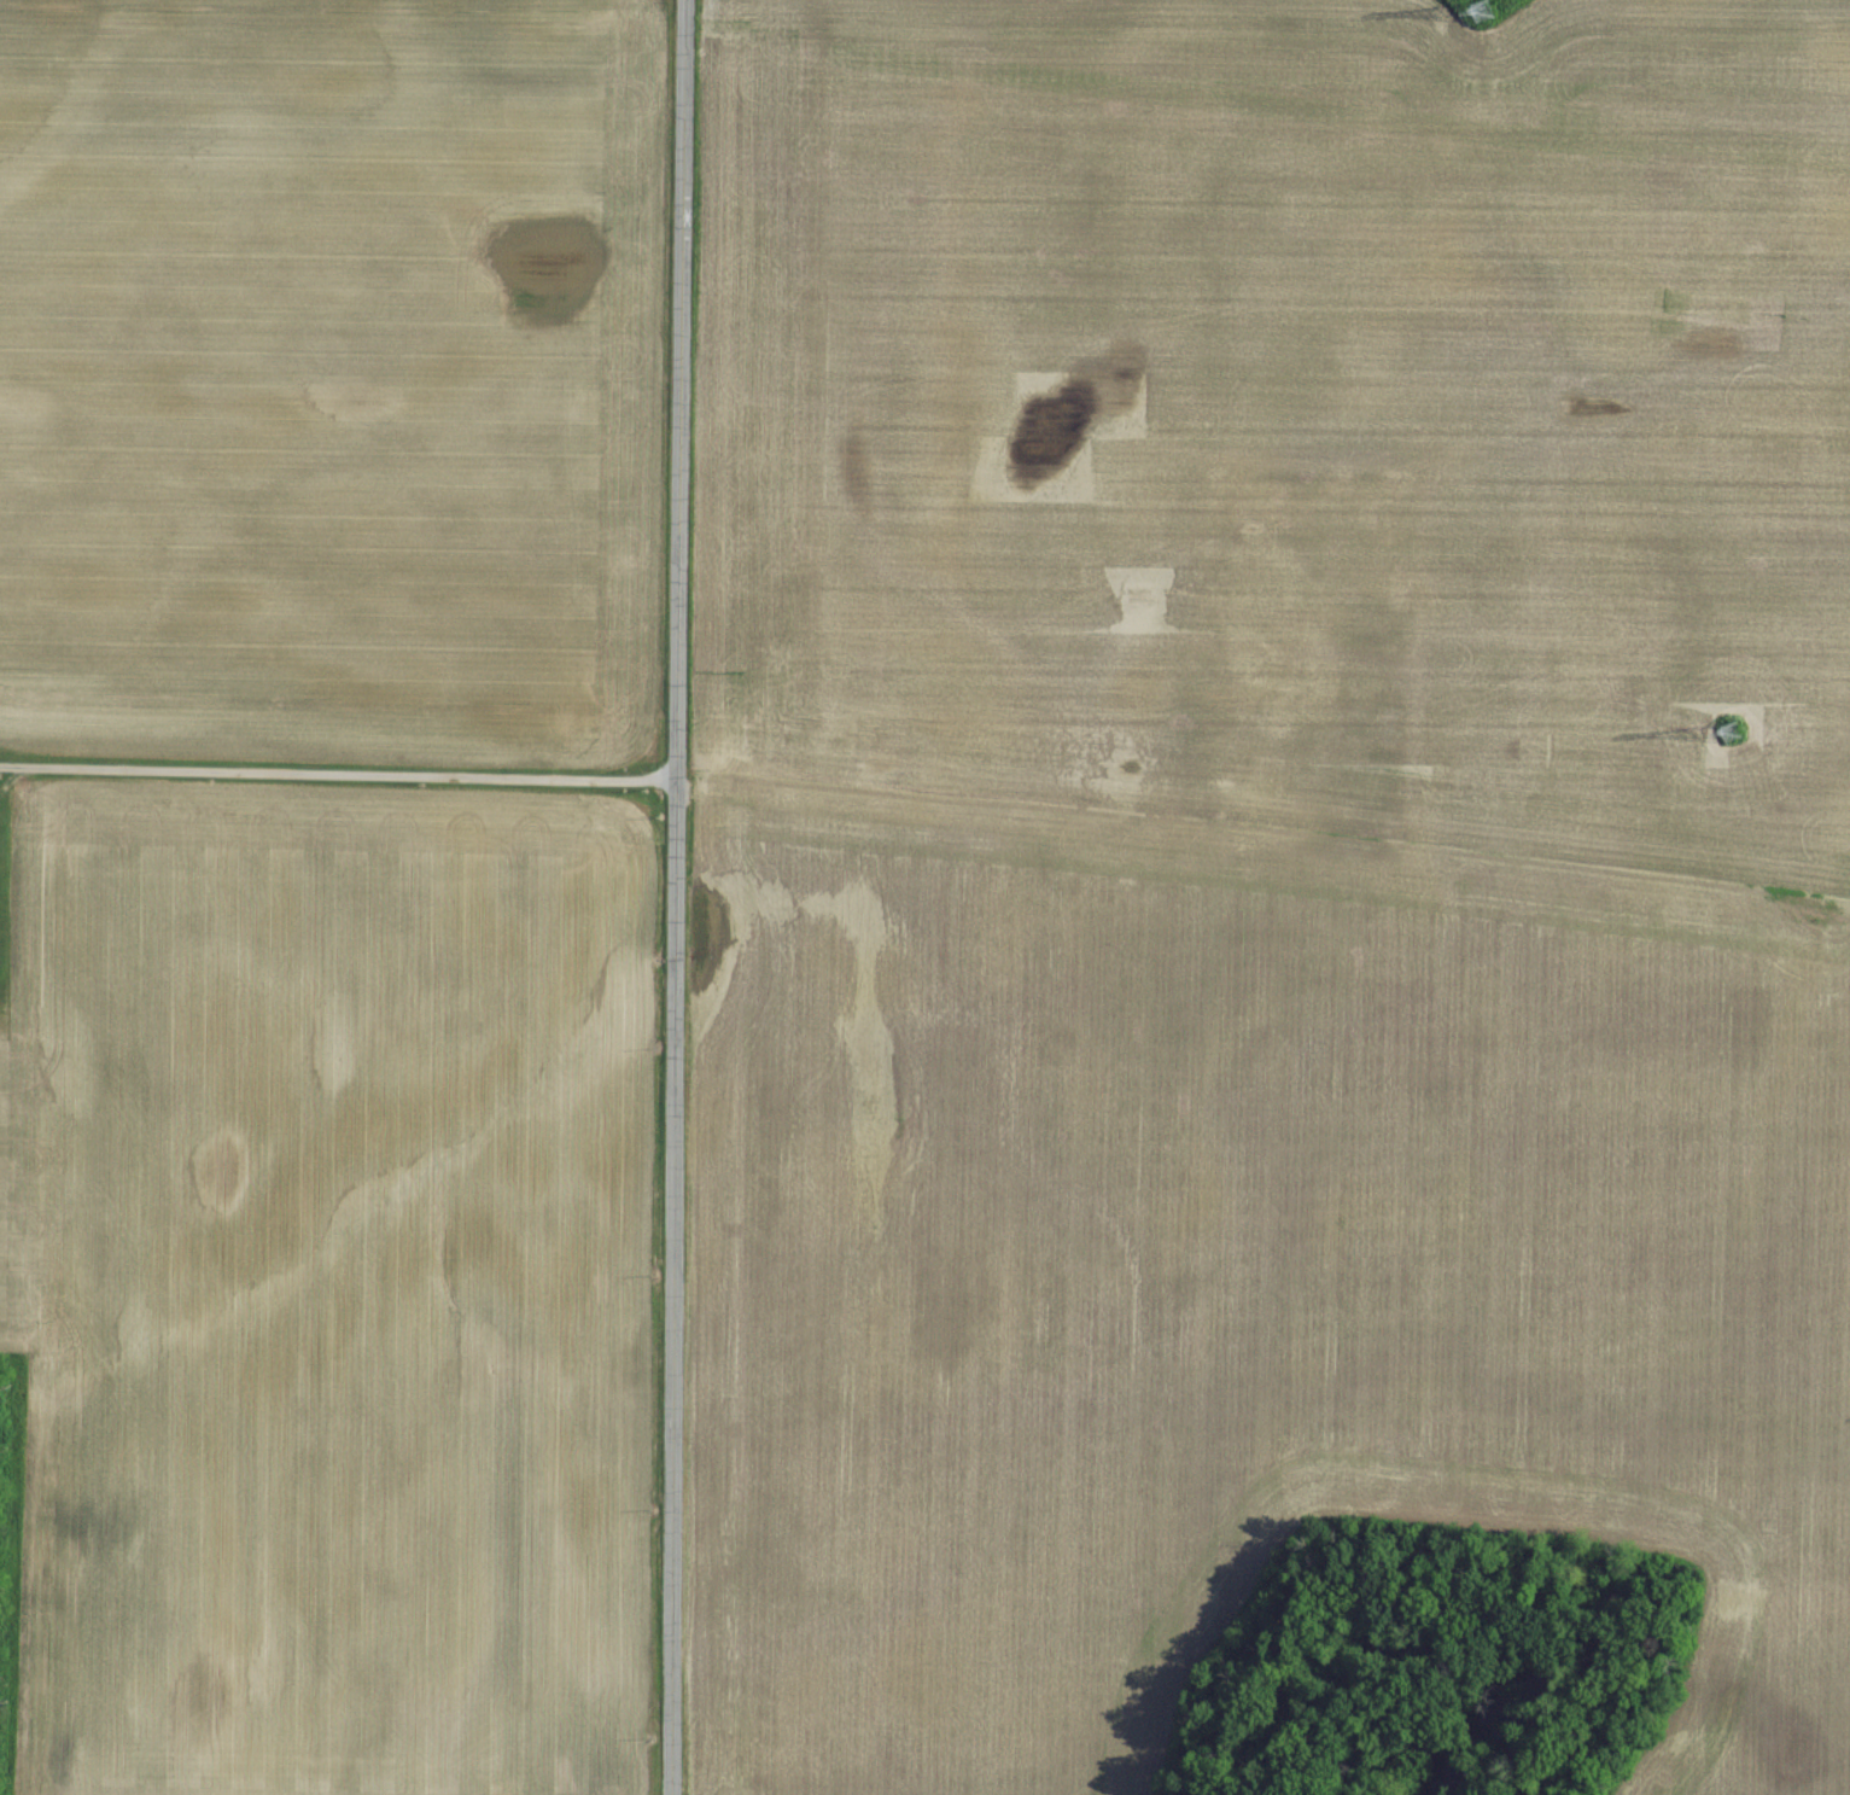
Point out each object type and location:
building: (1383, 728)
road: (338, 774)
road: (676, 897)

